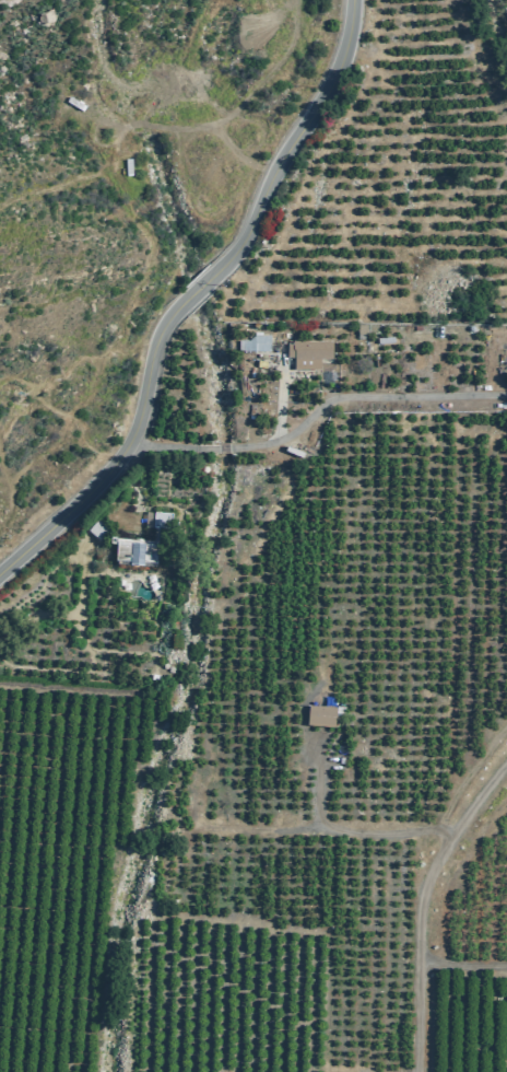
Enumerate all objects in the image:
road: (299, 140)
road: (200, 288)
building: (358, 330)
building: (382, 339)
building: (252, 342)
building: (307, 352)
road: (367, 399)
road: (278, 400)
road: (174, 447)
road: (231, 450)
road: (120, 459)
building: (95, 528)
building: (139, 543)
road: (71, 615)
building: (321, 716)
road: (345, 829)
road: (422, 906)

